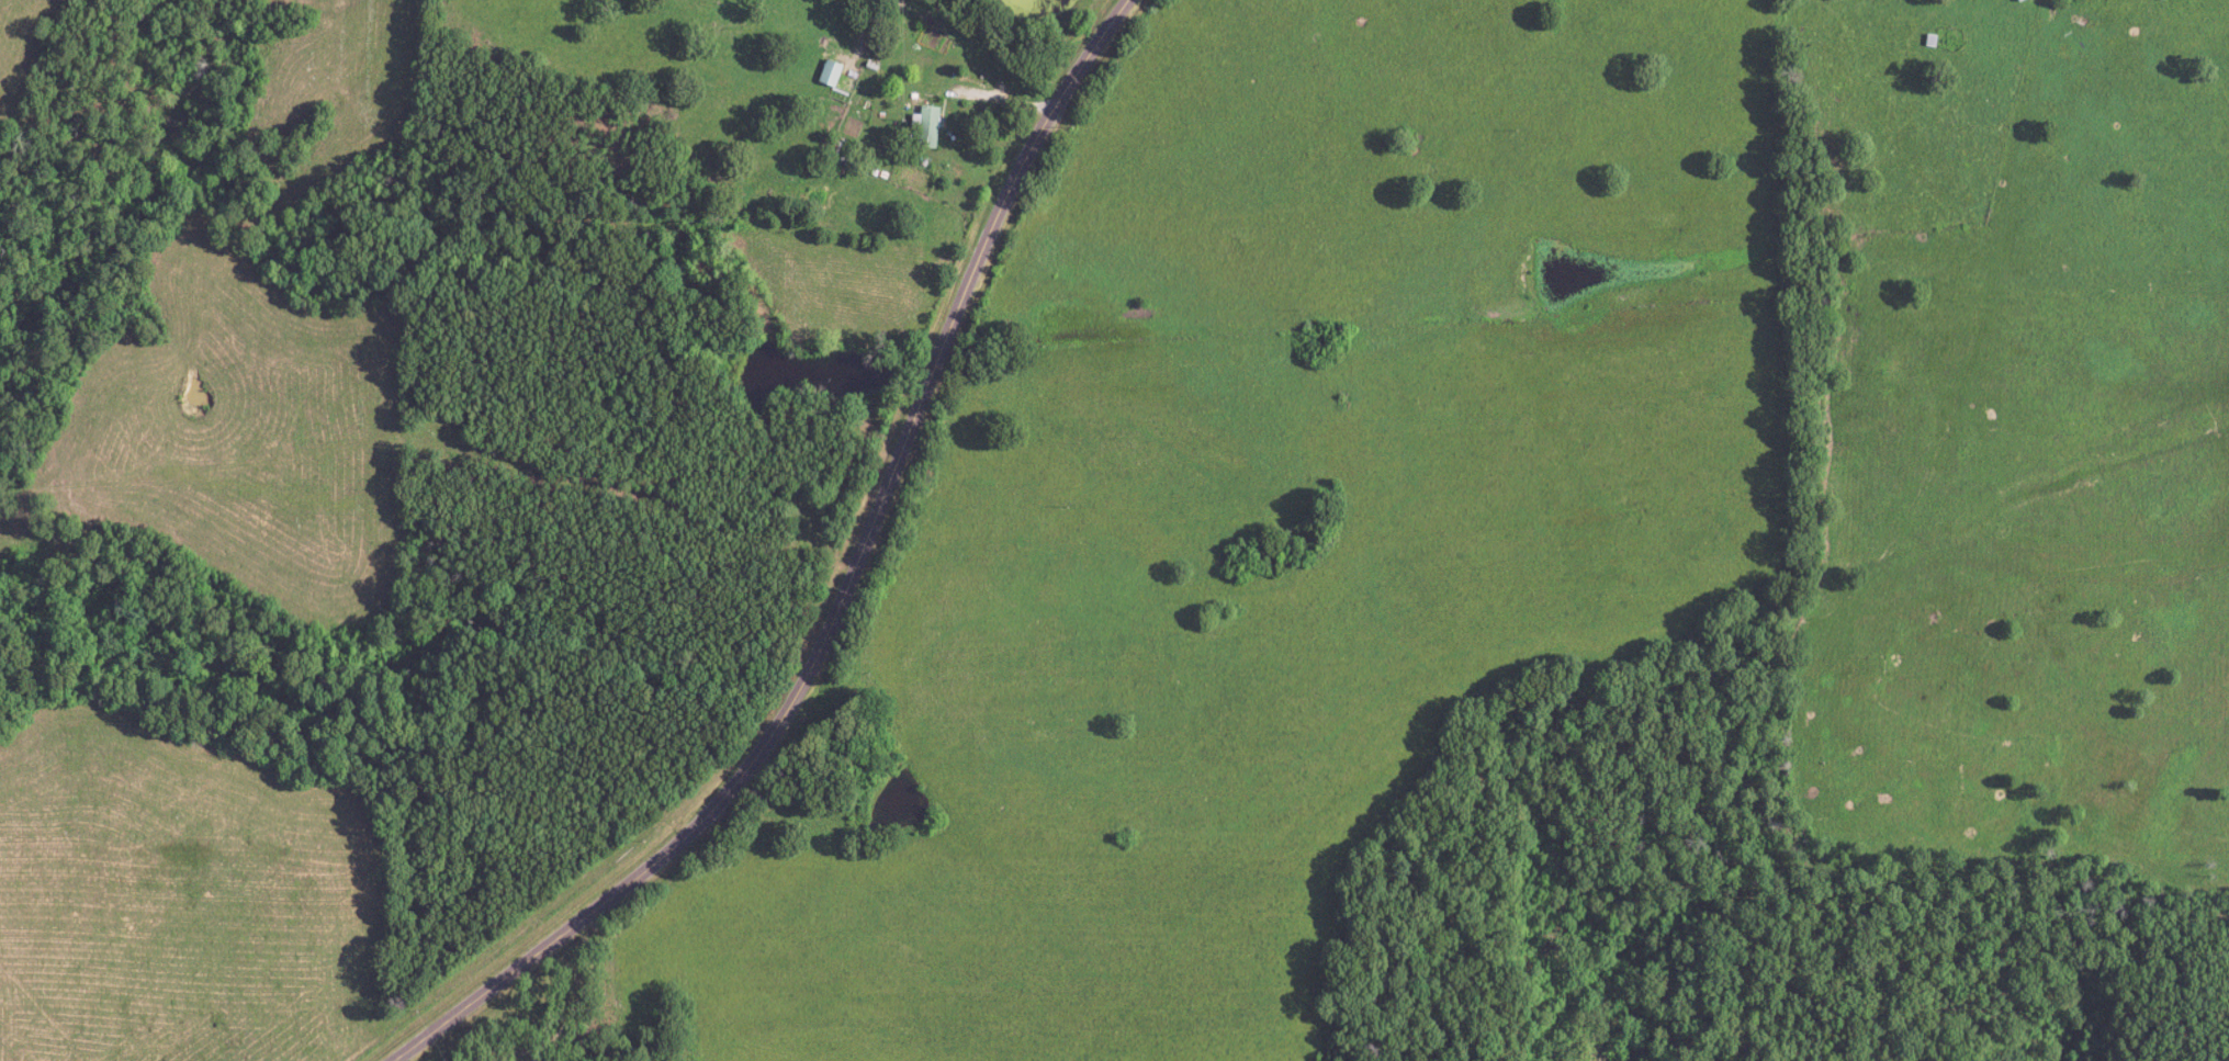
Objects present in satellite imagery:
building: (2018, 0)
building: (829, 74)
building: (925, 126)
road: (843, 592)

